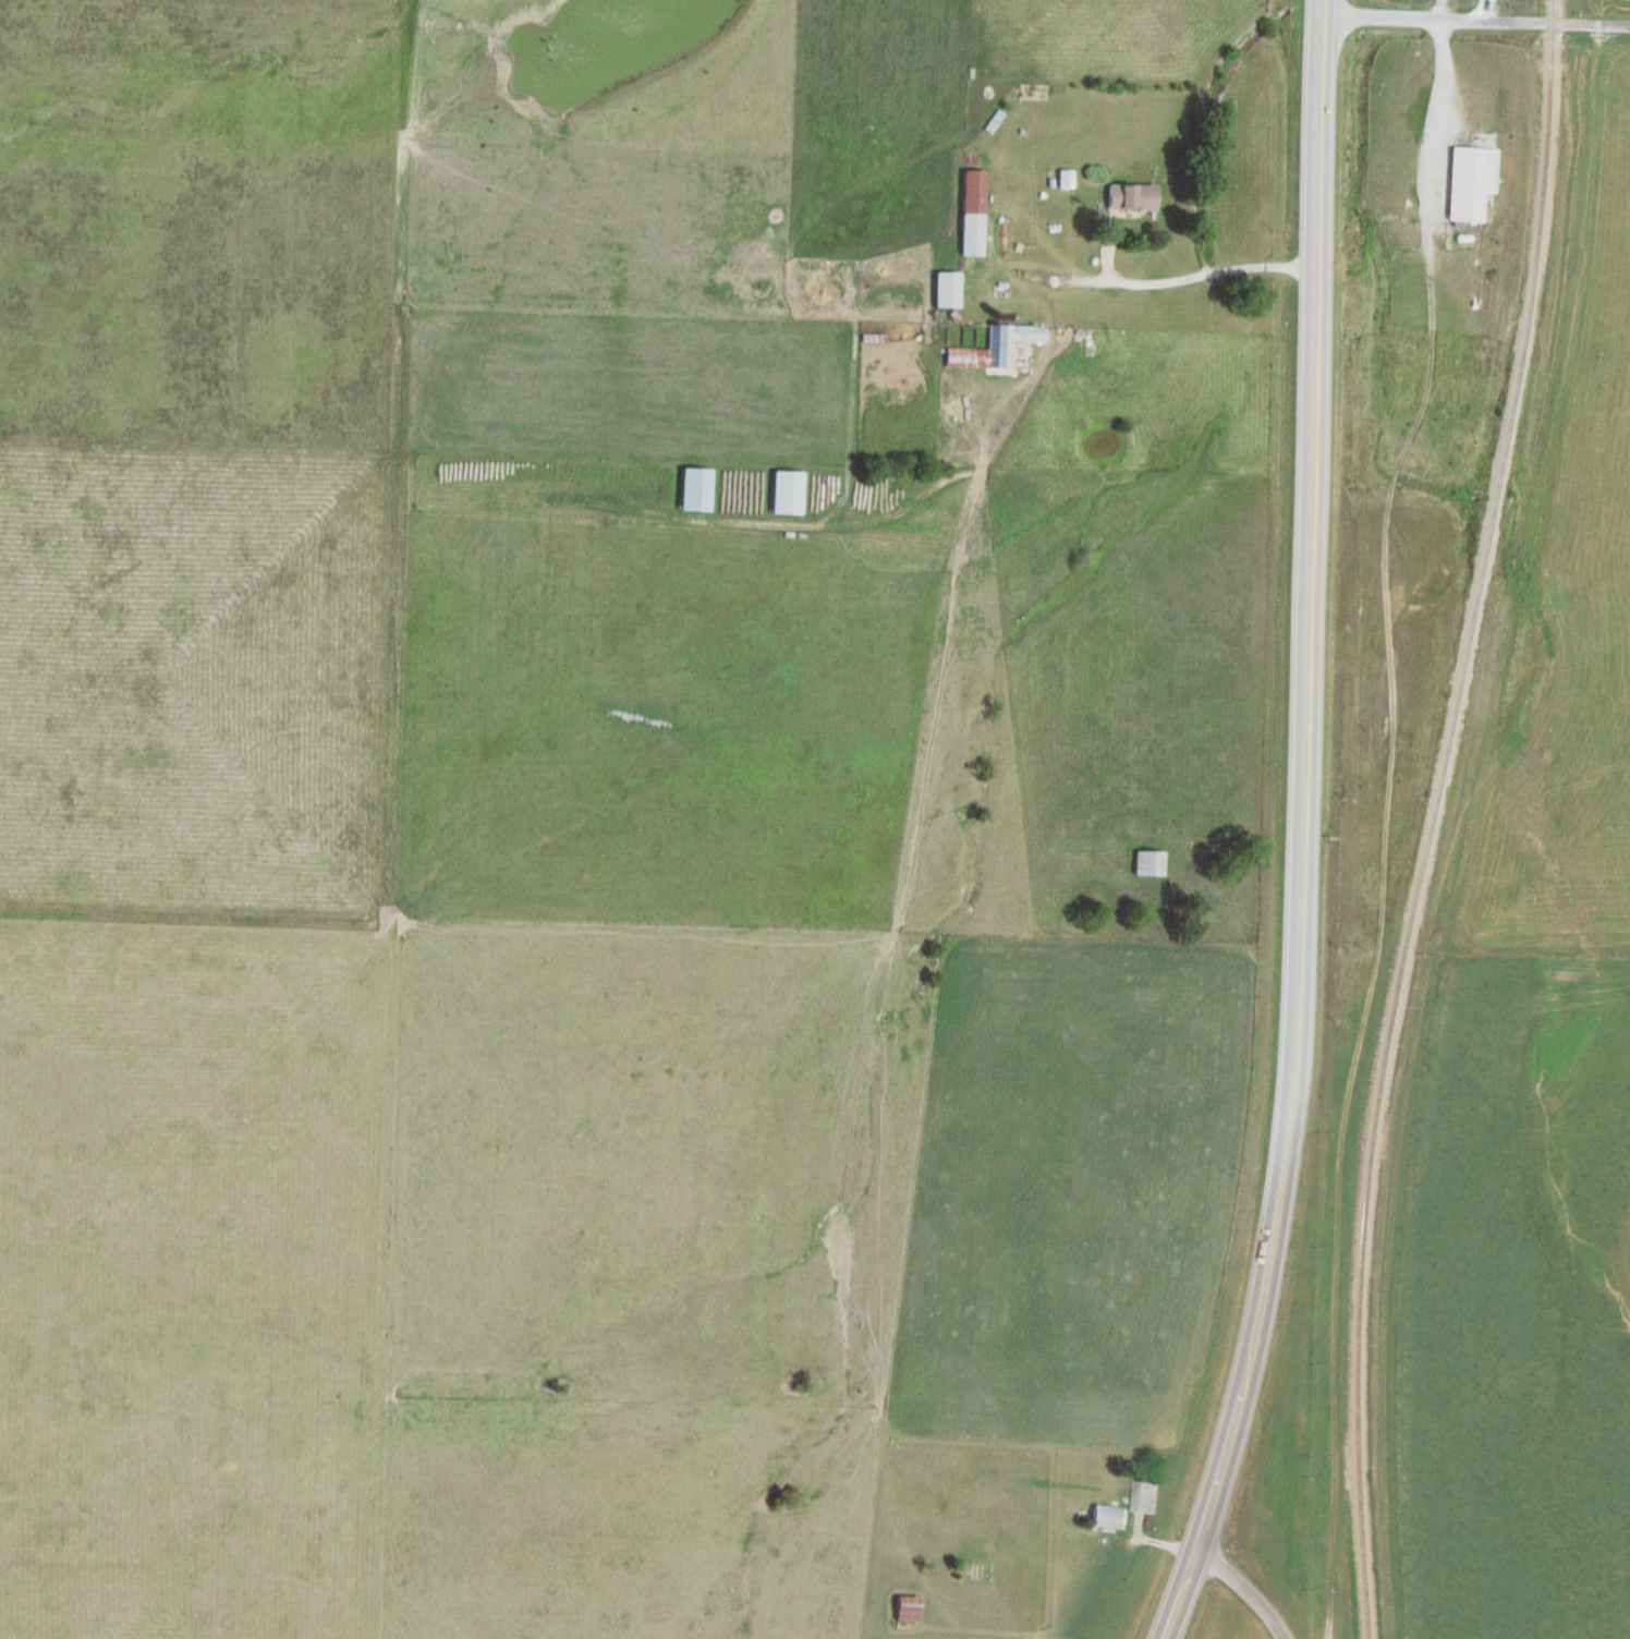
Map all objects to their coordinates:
road: (1479, 11)
road: (1474, 22)
building: (1468, 181)
building: (1129, 196)
building: (970, 213)
road: (1163, 284)
building: (945, 289)
road: (1046, 330)
building: (993, 347)
building: (692, 489)
building: (782, 491)
road: (532, 627)
railway: (1428, 816)
road: (1300, 827)
road: (1384, 828)
building: (1147, 863)
building: (1145, 1497)
building: (1108, 1517)
road: (1243, 1589)
building: (904, 1608)

